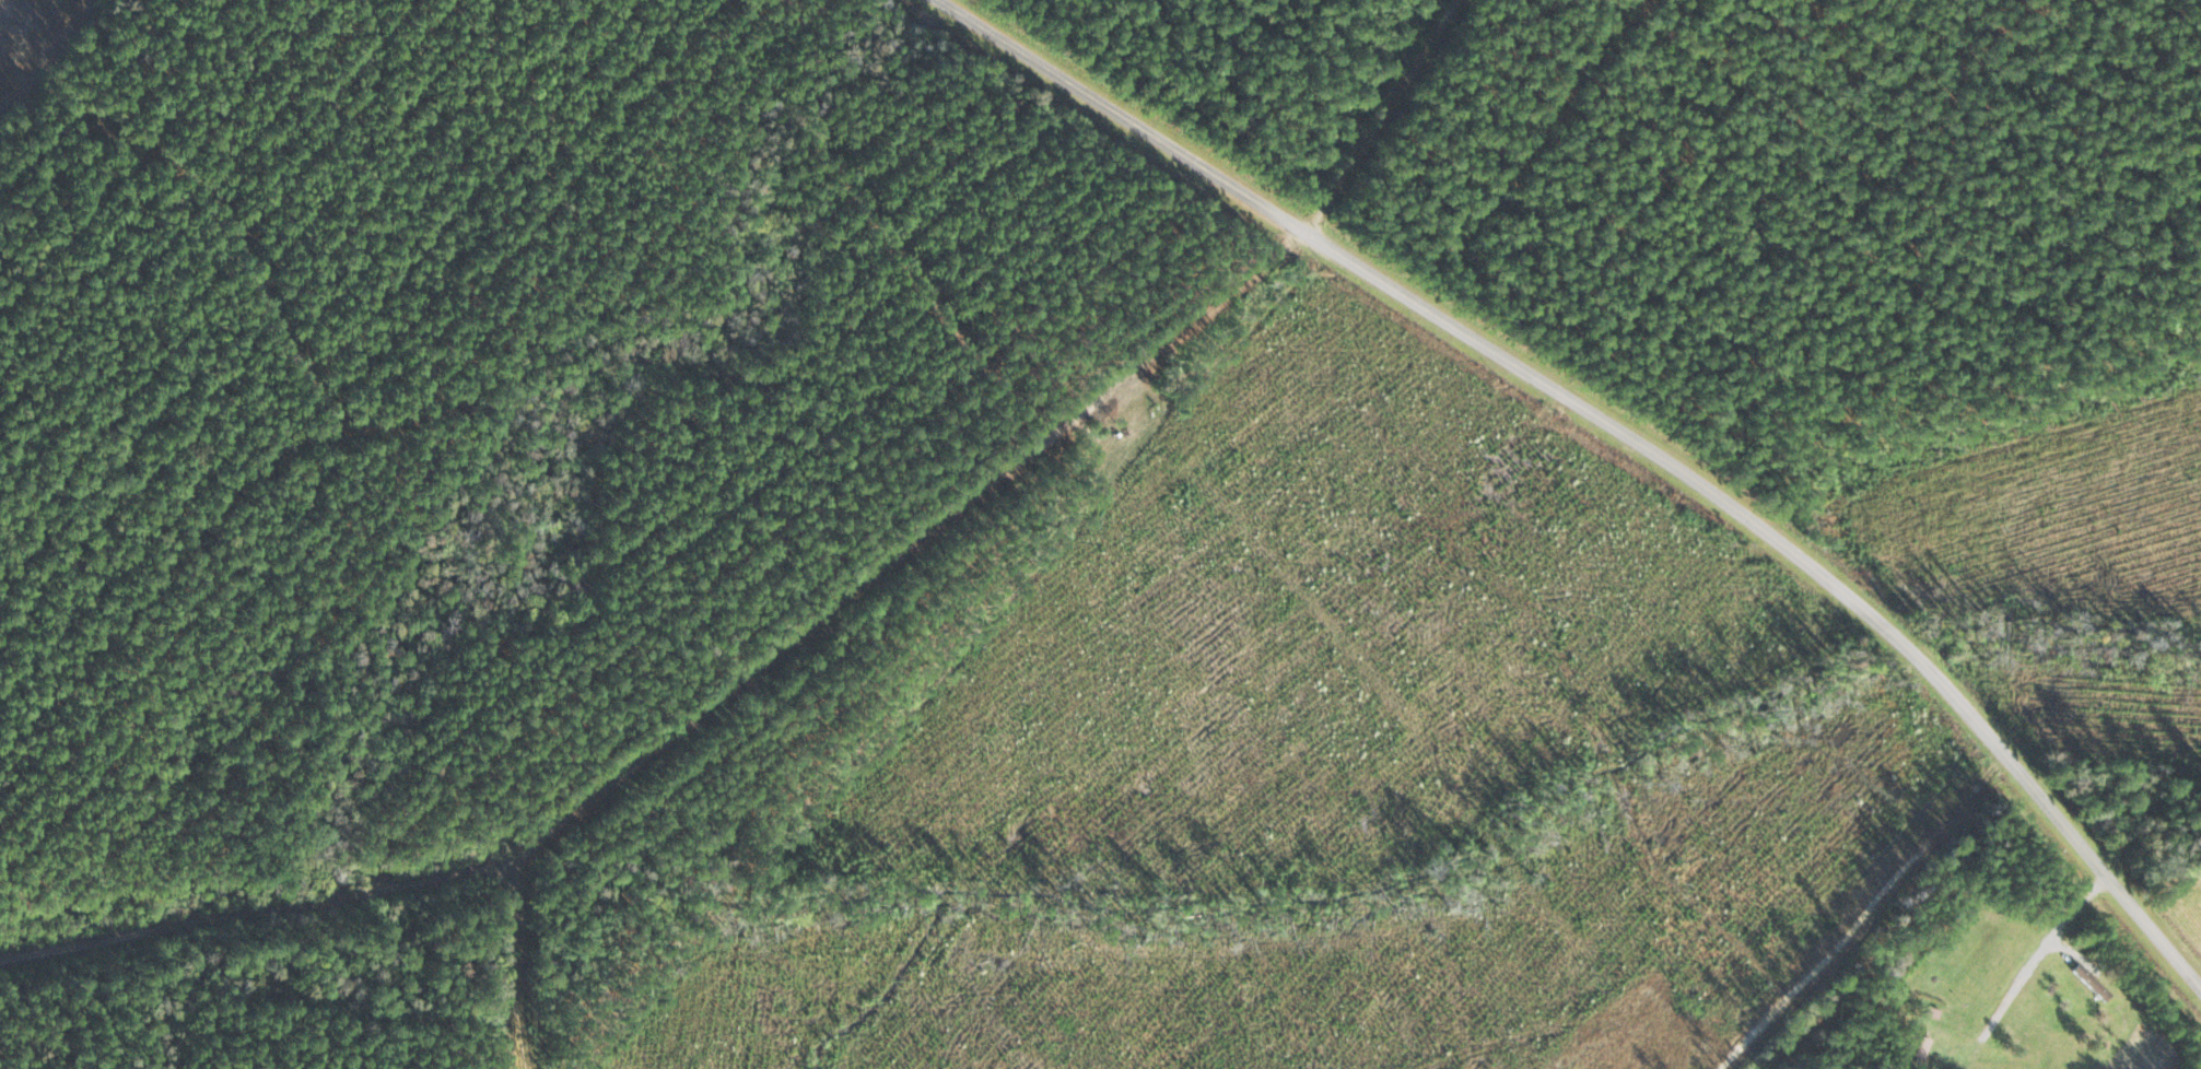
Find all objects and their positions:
road: (1620, 431)
road: (883, 473)
road: (250, 912)
building: (2091, 984)
building: (1932, 1014)
building: (1922, 1048)

